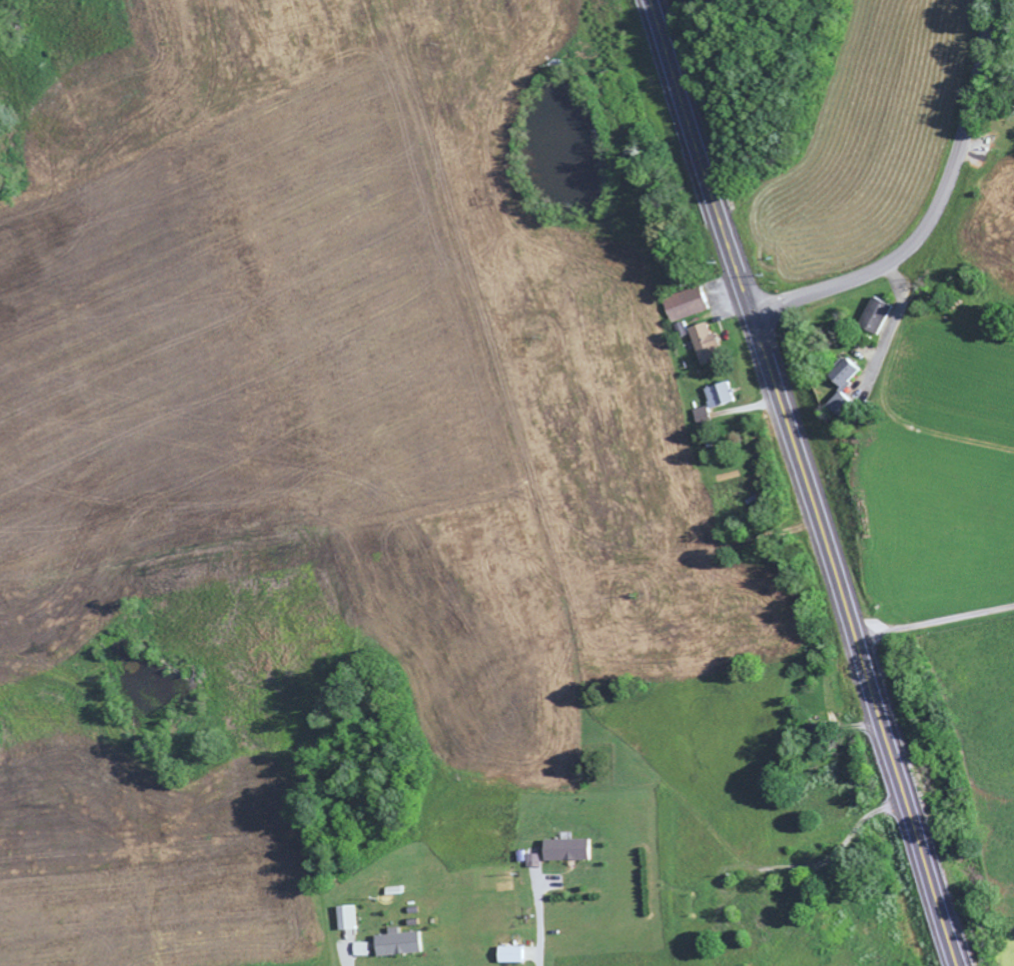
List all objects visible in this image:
road: (936, 210)
building: (693, 303)
building: (883, 313)
building: (712, 343)
building: (721, 400)
building: (847, 400)
road: (805, 483)
road: (934, 622)
building: (575, 849)
building: (540, 860)
road: (789, 866)
building: (355, 917)
building: (408, 942)
building: (368, 948)
building: (520, 953)

